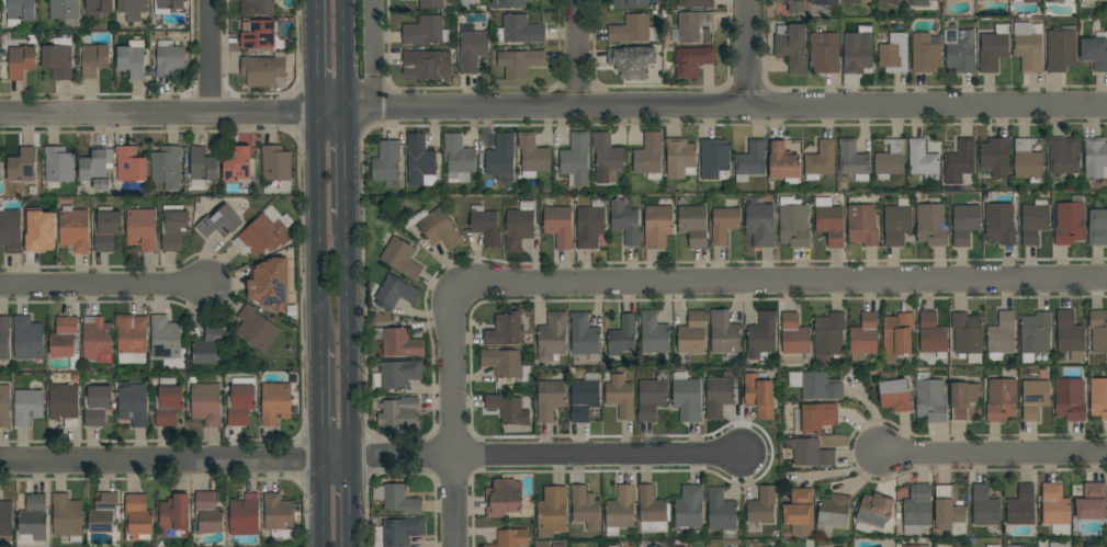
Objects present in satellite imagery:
building: (1089, 0)
building: (824, 1)
building: (852, 1)
building: (891, 1)
building: (1029, 1)
building: (1058, 1)
building: (508, 3)
building: (630, 3)
building: (696, 3)
building: (919, 3)
building: (431, 4)
building: (168, 5)
building: (793, 5)
building: (262, 7)
building: (98, 8)
building: (132, 9)
building: (65, 10)
building: (20, 11)
building: (691, 26)
building: (520, 30)
building: (632, 30)
building: (425, 31)
building: (261, 37)
building: (791, 46)
building: (993, 48)
building: (1028, 48)
building: (1061, 48)
building: (472, 49)
building: (960, 50)
building: (824, 53)
building: (857, 53)
building: (1095, 53)
road: (579, 54)
road: (748, 54)
building: (894, 54)
building: (925, 54)
road: (343, 55)
road: (372, 55)
road: (317, 56)
road: (211, 57)
building: (169, 58)
building: (58, 59)
building: (93, 59)
building: (133, 59)
building: (21, 61)
building: (692, 61)
building: (519, 64)
building: (635, 64)
building: (426, 66)
building: (264, 70)
road: (725, 107)
road: (331, 112)
road: (159, 115)
building: (532, 156)
building: (648, 156)
building: (1064, 156)
building: (458, 157)
building: (995, 157)
building: (1095, 157)
building: (607, 158)
building: (680, 158)
building: (501, 159)
building: (576, 159)
building: (1027, 159)
building: (714, 160)
building: (821, 160)
building: (852, 160)
building: (890, 160)
building: (386, 161)
building: (419, 161)
building: (750, 161)
building: (782, 161)
building: (923, 161)
building: (960, 162)
building: (59, 164)
building: (95, 164)
road: (344, 164)
building: (22, 166)
building: (275, 166)
building: (128, 167)
building: (167, 167)
building: (240, 167)
building: (0, 168)
building: (202, 168)
building: (102, 184)
building: (1033, 220)
building: (218, 221)
building: (760, 221)
building: (829, 221)
building: (998, 221)
building: (625, 223)
building: (793, 223)
building: (862, 223)
building: (557, 224)
building: (590, 224)
building: (896, 224)
building: (964, 224)
building: (1069, 224)
building: (693, 225)
building: (724, 225)
building: (930, 225)
building: (485, 226)
building: (519, 226)
building: (173, 227)
building: (657, 227)
building: (1097, 227)
building: (434, 228)
building: (38, 229)
building: (74, 229)
building: (142, 229)
building: (10, 230)
building: (106, 230)
road: (319, 230)
building: (263, 236)
building: (402, 259)
building: (273, 280)
road: (780, 282)
road: (105, 286)
building: (393, 293)
building: (257, 329)
building: (505, 330)
building: (1098, 331)
building: (654, 333)
building: (692, 333)
building: (724, 333)
building: (584, 334)
building: (933, 335)
building: (1035, 335)
building: (1070, 335)
building: (131, 337)
building: (761, 337)
building: (794, 337)
building: (863, 337)
building: (897, 337)
building: (968, 337)
building: (1001, 337)
building: (4, 338)
building: (65, 338)
building: (166, 338)
building: (552, 338)
building: (622, 338)
building: (828, 338)
building: (27, 339)
road: (347, 339)
building: (97, 340)
building: (398, 342)
building: (207, 346)
building: (506, 364)
building: (397, 375)
building: (818, 386)
building: (894, 392)
building: (759, 395)
building: (620, 396)
building: (687, 397)
building: (719, 397)
building: (585, 398)
building: (1035, 398)
building: (1098, 398)
building: (550, 399)
building: (651, 399)
building: (930, 399)
building: (1070, 399)
building: (240, 400)
building: (965, 400)
building: (1001, 400)
building: (168, 402)
building: (65, 403)
building: (206, 403)
building: (275, 403)
road: (320, 403)
building: (134, 404)
building: (4, 406)
building: (97, 406)
building: (27, 407)
building: (507, 409)
building: (398, 411)
road: (454, 415)
building: (817, 417)
building: (810, 452)
road: (994, 455)
road: (545, 456)
road: (174, 461)
building: (504, 498)
building: (397, 499)
building: (1092, 502)
road: (321, 503)
road: (350, 503)
building: (763, 505)
building: (984, 506)
building: (1021, 506)
building: (585, 508)
building: (689, 508)
building: (947, 508)
building: (916, 509)
building: (1055, 509)
building: (620, 510)
building: (721, 510)
building: (874, 510)
building: (652, 511)
building: (799, 511)
building: (552, 512)
building: (207, 513)
building: (103, 514)
building: (832, 514)
building: (245, 515)
building: (174, 516)
building: (278, 516)
building: (34, 517)
building: (67, 517)
building: (137, 517)
building: (5, 518)
building: (397, 532)
building: (511, 538)
building: (1060, 545)
building: (612, 546)
building: (657, 546)
building: (912, 546)
building: (993, 546)
building: (1015, 546)

